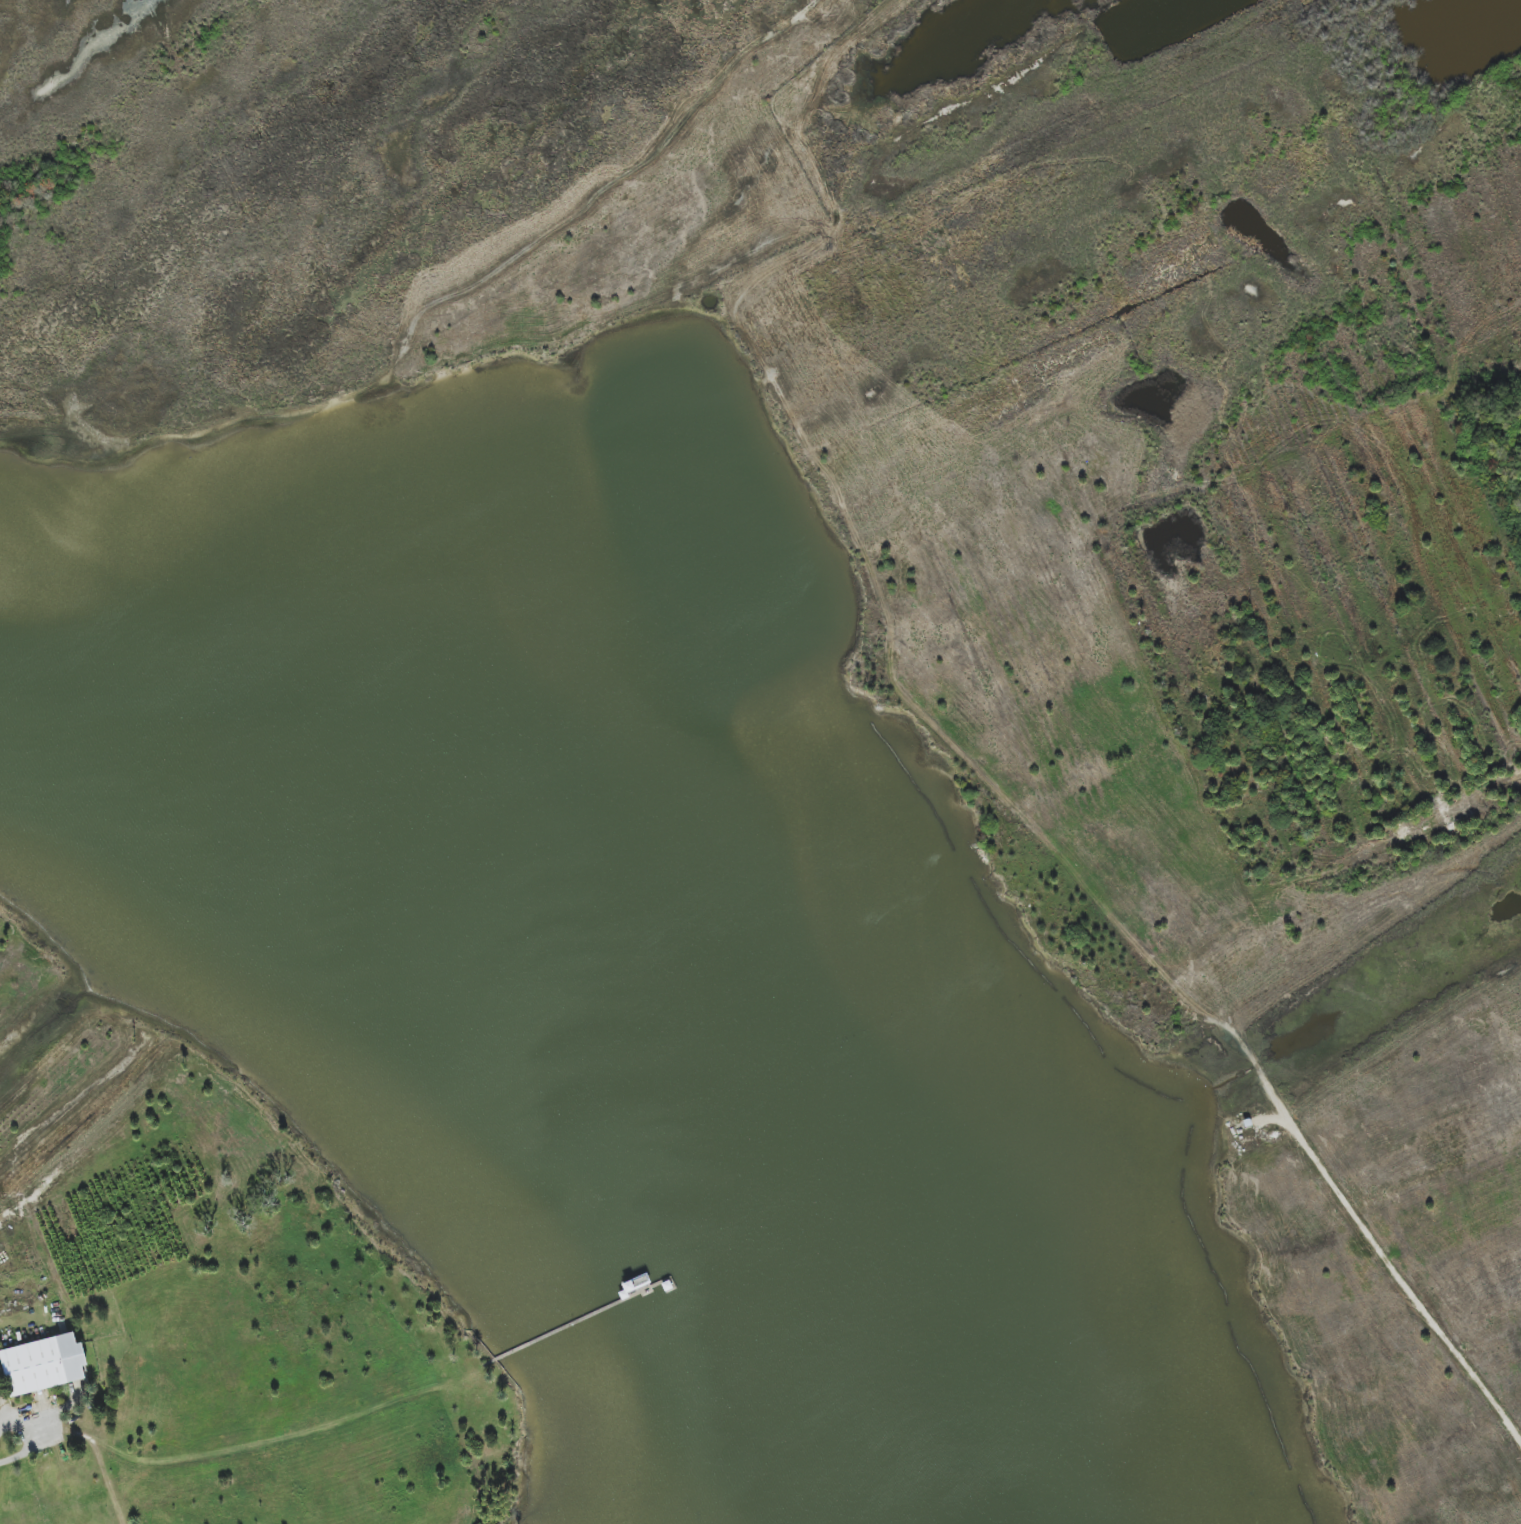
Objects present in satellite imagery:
building: (44, 1364)
road: (42, 1446)

